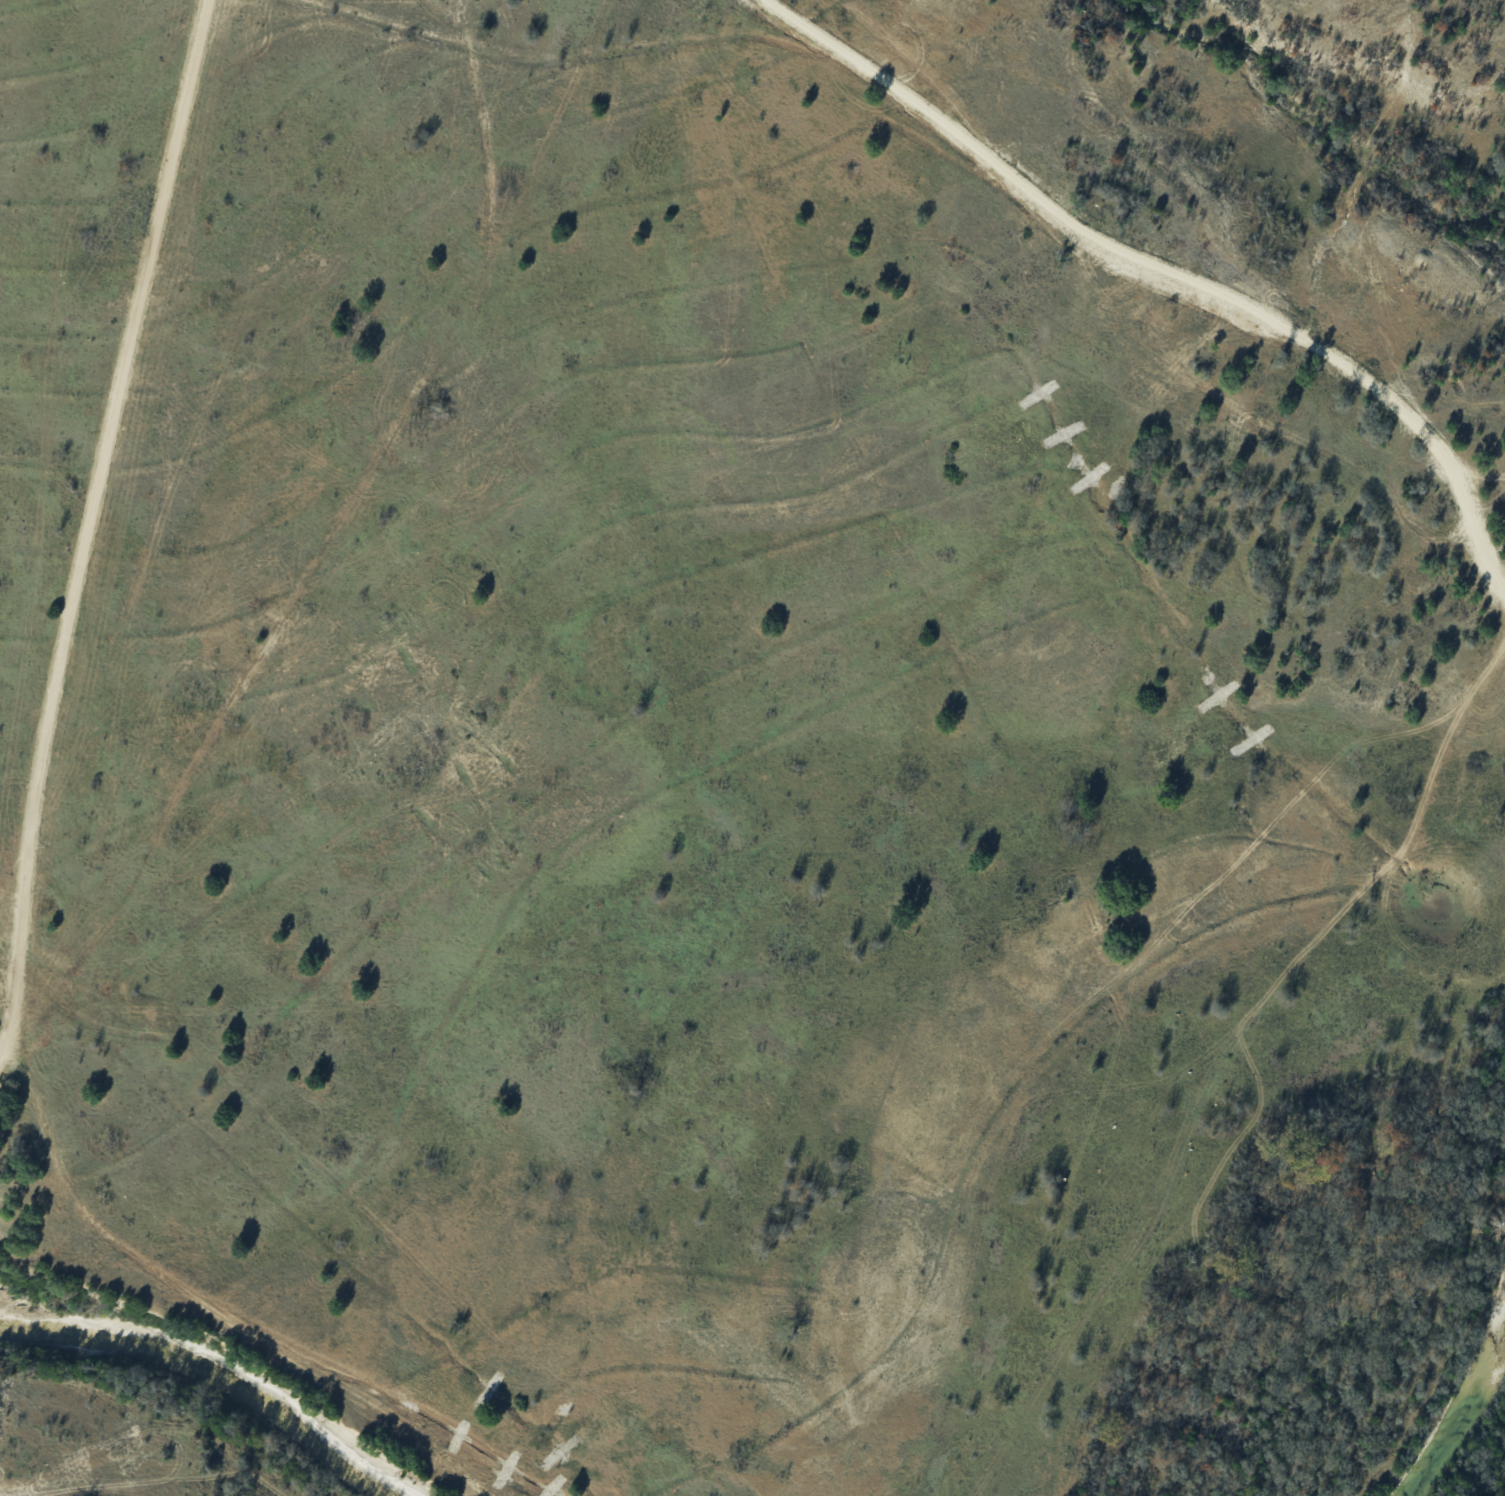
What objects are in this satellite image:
road: (85, 509)

